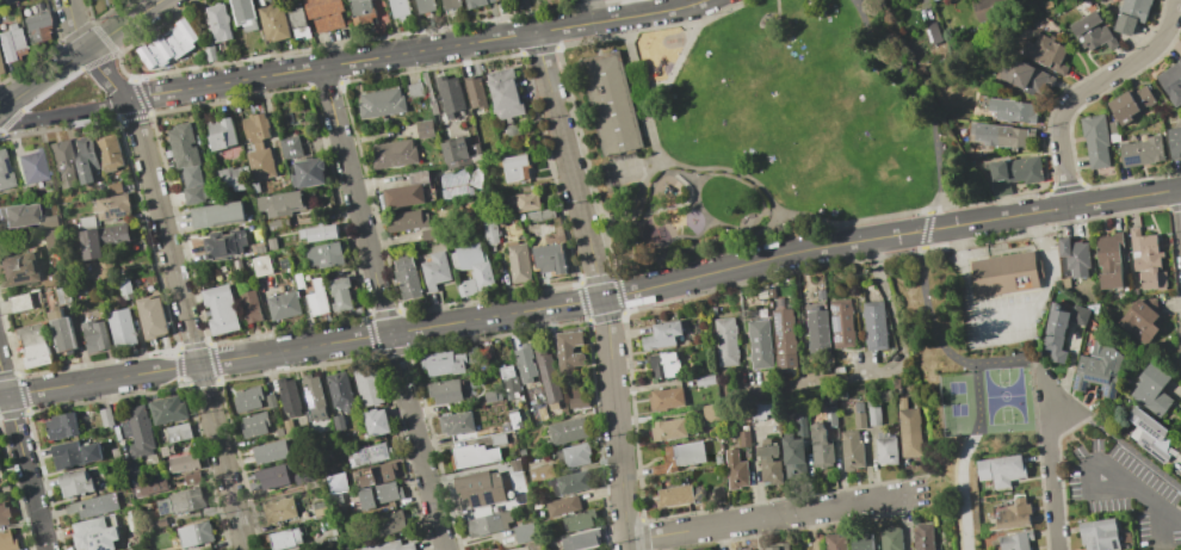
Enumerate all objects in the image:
building: (264, 0)
building: (494, 0)
building: (502, 0)
building: (896, 0)
building: (1112, 0)
building: (7, 1)
building: (475, 2)
building: (450, 4)
road: (680, 4)
building: (1047, 4)
building: (425, 6)
building: (1088, 6)
road: (638, 7)
building: (398, 8)
building: (989, 8)
building: (242, 11)
road: (589, 11)
building: (324, 13)
building: (361, 13)
building: (1131, 14)
building: (298, 21)
building: (217, 23)
building: (273, 23)
road: (122, 24)
building: (35, 26)
road: (73, 26)
building: (932, 32)
building: (1092, 32)
building: (10, 43)
building: (168, 44)
road: (412, 51)
building: (1045, 54)
building: (210, 55)
road: (675, 61)
building: (0, 70)
building: (1025, 75)
road: (103, 76)
road: (43, 79)
building: (1171, 82)
road: (1087, 88)
building: (414, 91)
building: (475, 92)
building: (503, 94)
building: (450, 95)
building: (381, 104)
building: (1130, 104)
road: (929, 105)
building: (616, 106)
building: (1010, 110)
road: (61, 113)
building: (423, 129)
park: (762, 132)
building: (221, 134)
building: (1001, 135)
building: (1096, 138)
road: (653, 140)
building: (1174, 141)
building: (258, 147)
building: (290, 147)
building: (1140, 152)
building: (110, 153)
building: (453, 153)
building: (392, 154)
building: (85, 159)
rooftop solar panel: (1131, 161)
building: (61, 162)
building: (186, 163)
rooftop solar panel: (4, 166)
building: (30, 167)
building: (515, 167)
road: (725, 171)
building: (4, 173)
building: (308, 173)
building: (1013, 174)
rooftop solar panel: (2, 175)
building: (233, 177)
building: (115, 187)
building: (254, 189)
building: (407, 191)
building: (526, 200)
building: (280, 203)
building: (111, 206)
rooftop solar panel: (116, 212)
road: (1025, 214)
building: (17, 215)
building: (216, 215)
building: (539, 215)
building: (50, 221)
building: (408, 221)
building: (784, 223)
building: (278, 224)
road: (763, 229)
building: (490, 230)
building: (317, 233)
building: (429, 234)
building: (99, 236)
building: (52, 239)
building: (271, 243)
building: (223, 245)
building: (323, 254)
building: (549, 258)
building: (1072, 258)
building: (1108, 259)
building: (1145, 259)
building: (517, 261)
building: (236, 265)
building: (261, 265)
road: (735, 265)
building: (472, 268)
building: (434, 270)
building: (23, 271)
building: (1004, 274)
rooftop solar panel: (21, 279)
building: (407, 279)
building: (298, 280)
road: (599, 288)
building: (124, 289)
building: (340, 293)
building: (760, 293)
building: (820, 293)
building: (62, 296)
building: (317, 298)
building: (19, 302)
building: (282, 305)
building: (251, 307)
road: (383, 308)
building: (219, 309)
rooftop solar panel: (834, 309)
building: (761, 313)
building: (150, 316)
parking lot: (1003, 319)
road: (1003, 321)
building: (840, 322)
road: (187, 323)
rooftop solar panel: (777, 323)
building: (1138, 323)
rooftop solar panel: (836, 325)
building: (873, 326)
building: (120, 328)
building: (1062, 329)
road: (897, 330)
building: (62, 332)
building: (816, 332)
building: (93, 334)
rooftop solar panel: (779, 334)
building: (661, 335)
building: (783, 338)
rooftop solar panel: (836, 340)
building: (725, 341)
building: (759, 344)
building: (32, 346)
road: (301, 346)
building: (568, 351)
road: (1024, 359)
building: (443, 363)
building: (525, 363)
building: (663, 364)
building: (1099, 369)
park: (960, 372)
building: (546, 378)
building: (704, 381)
rooftop solar panel: (1095, 381)
building: (508, 382)
rooftop solar panel: (1077, 382)
building: (366, 385)
rooftop solar panel: (1082, 388)
rooftop solar panel: (1106, 389)
rooftop solar panel: (1112, 390)
building: (1151, 390)
building: (339, 391)
building: (444, 391)
building: (491, 395)
park: (1003, 396)
building: (287, 397)
building: (313, 397)
building: (247, 398)
building: (577, 398)
building: (664, 398)
park: (956, 398)
road: (977, 400)
building: (268, 401)
building: (166, 409)
building: (760, 409)
building: (710, 413)
building: (871, 413)
building: (858, 415)
building: (105, 416)
building: (513, 418)
building: (338, 422)
building: (375, 422)
building: (455, 422)
building: (254, 424)
building: (61, 426)
building: (503, 426)
rooftop solar panel: (1144, 426)
building: (287, 427)
building: (908, 428)
building: (667, 430)
building: (137, 431)
building: (567, 431)
building: (178, 432)
building: (278, 432)
building: (1148, 434)
building: (743, 437)
building: (496, 439)
building: (822, 441)
rooftop solar panel: (371, 449)
building: (794, 449)
building: (884, 449)
building: (166, 450)
building: (851, 450)
building: (270, 451)
rooftop solar panel: (383, 452)
building: (74, 453)
building: (115, 453)
building: (367, 455)
building: (575, 455)
rooftop solar panel: (364, 456)
building: (471, 456)
building: (679, 457)
building: (149, 459)
road: (21, 461)
building: (184, 463)
building: (768, 464)
building: (515, 465)
building: (1001, 469)
building: (734, 470)
building: (540, 472)
building: (375, 474)
road: (1052, 474)
building: (271, 476)
building: (191, 477)
building: (298, 477)
road: (933, 478)
building: (334, 481)
building: (74, 483)
building: (141, 483)
building: (569, 483)
building: (480, 487)
road: (963, 492)
road: (1092, 493)
parking lot: (1126, 493)
road: (1140, 493)
building: (379, 494)
building: (717, 494)
building: (674, 495)
building: (339, 501)
building: (180, 502)
building: (92, 506)
building: (562, 506)
building: (321, 508)
building: (278, 509)
park: (960, 511)
building: (4, 514)
building: (1014, 514)
road: (767, 518)
building: (577, 520)
building: (155, 523)
building: (389, 523)
building: (487, 524)
road: (1163, 527)
road: (811, 530)
building: (524, 533)
building: (93, 534)
building: (193, 534)
building: (1099, 534)
rooftop solar panel: (97, 536)
building: (922, 536)
building: (284, 538)
building: (582, 538)
building: (890, 538)
building: (7, 540)
building: (860, 540)
building: (1015, 540)
rooftop solar panel: (99, 542)
building: (835, 542)
rooftop solar panel: (1093, 542)
rooftop solar panel: (92, 545)
building: (390, 546)
building: (533, 546)
building: (772, 548)
building: (128, 549)

